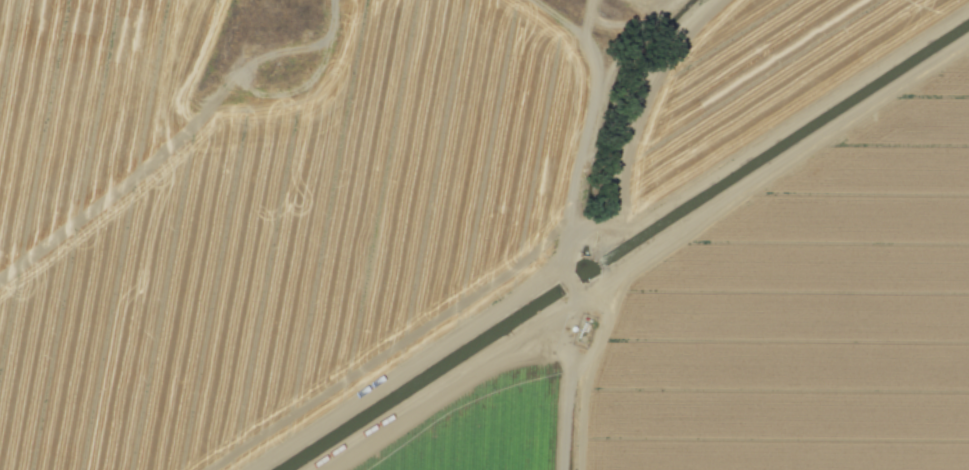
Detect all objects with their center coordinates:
road: (568, 380)

